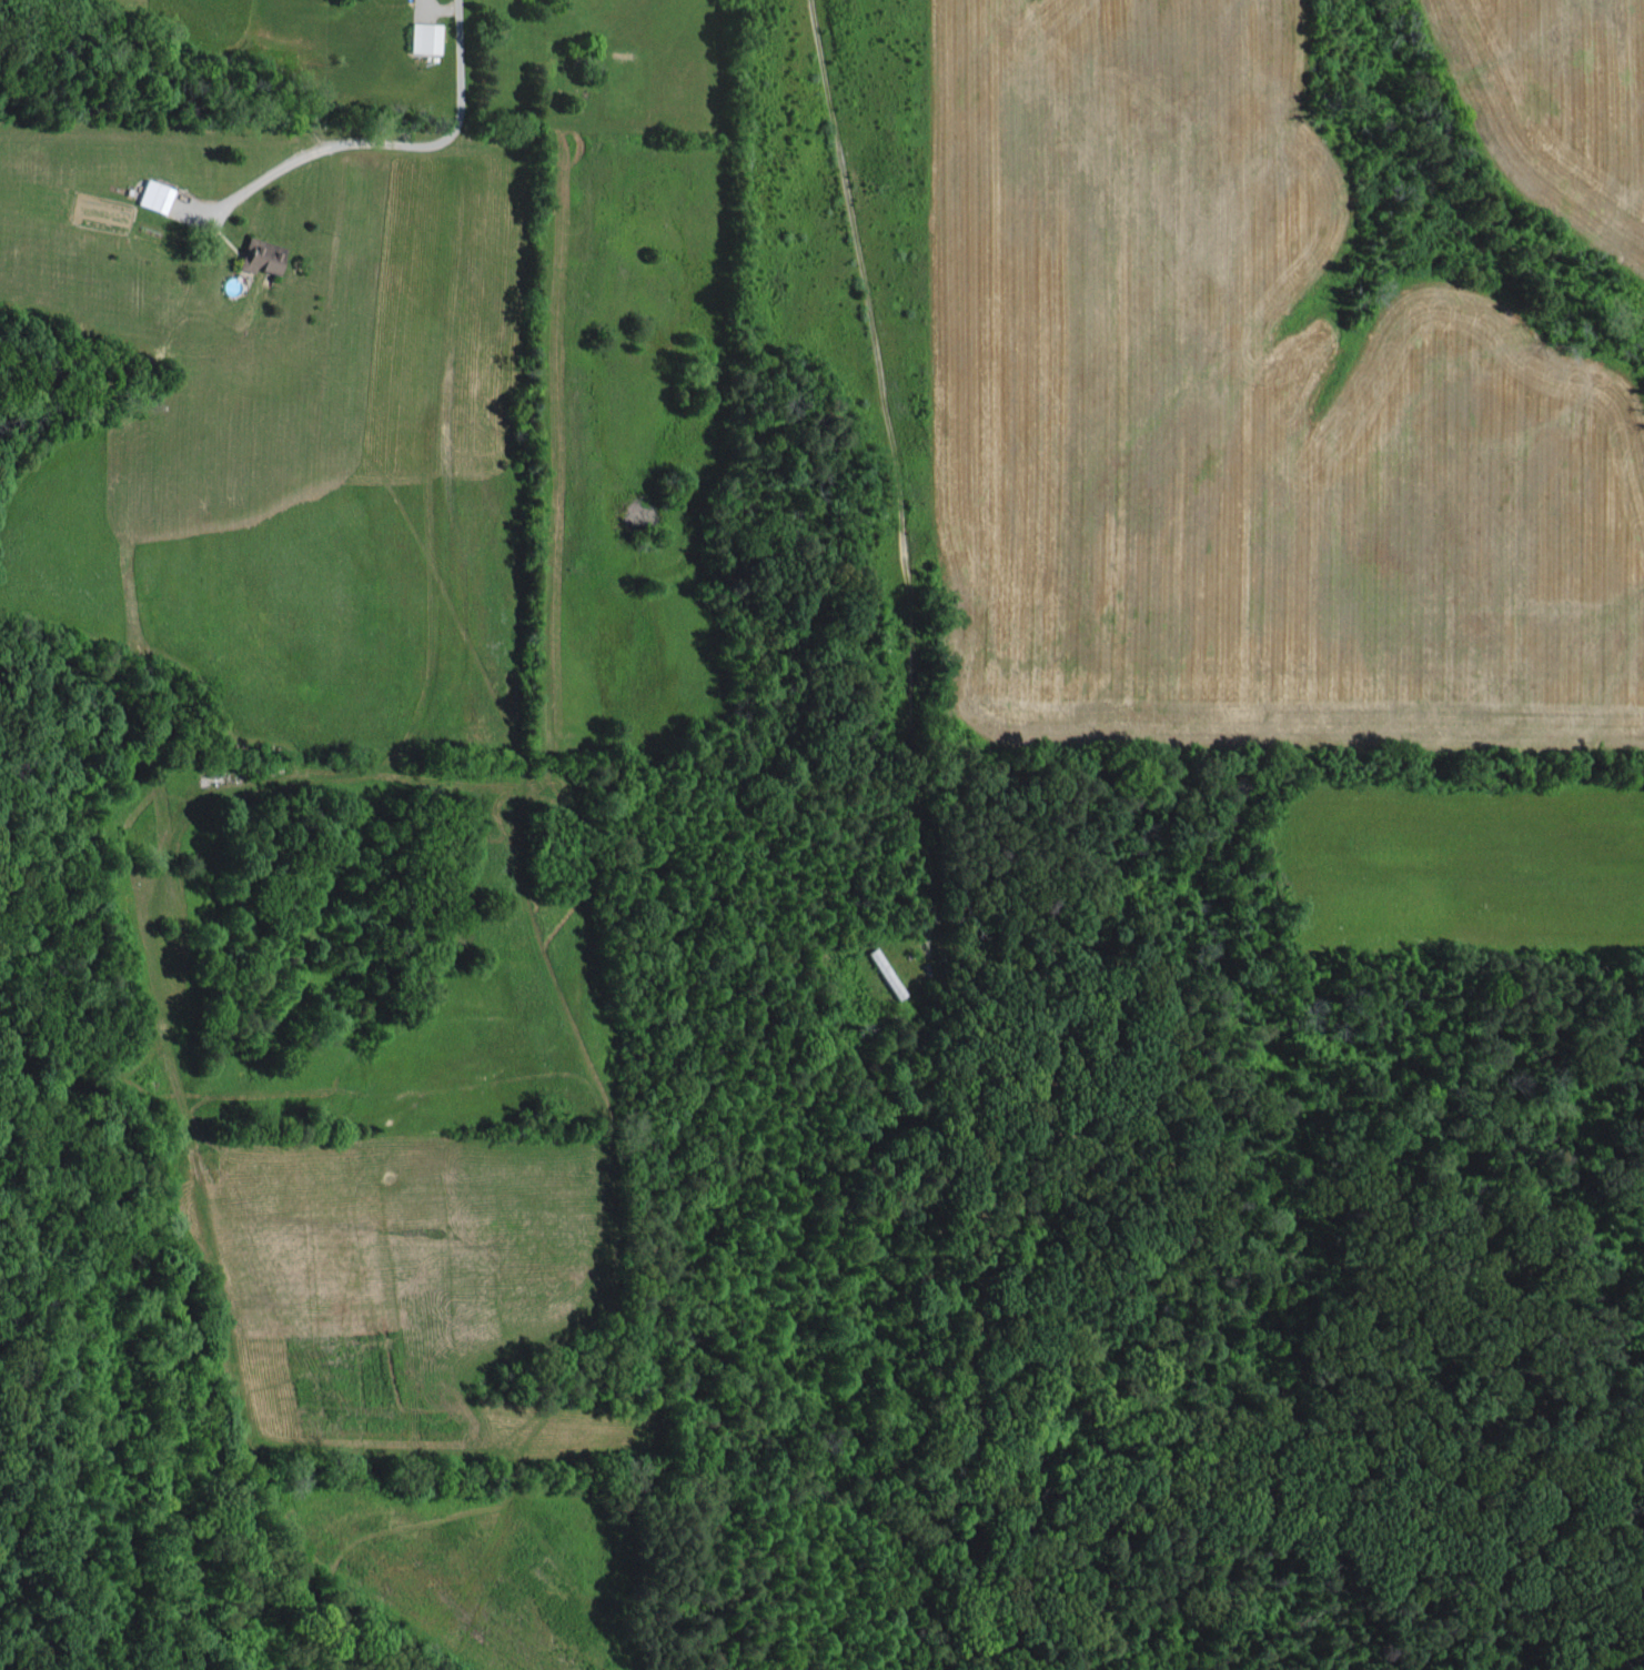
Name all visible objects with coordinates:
building: (422, 36)
building: (152, 194)
building: (258, 254)
road: (896, 452)

